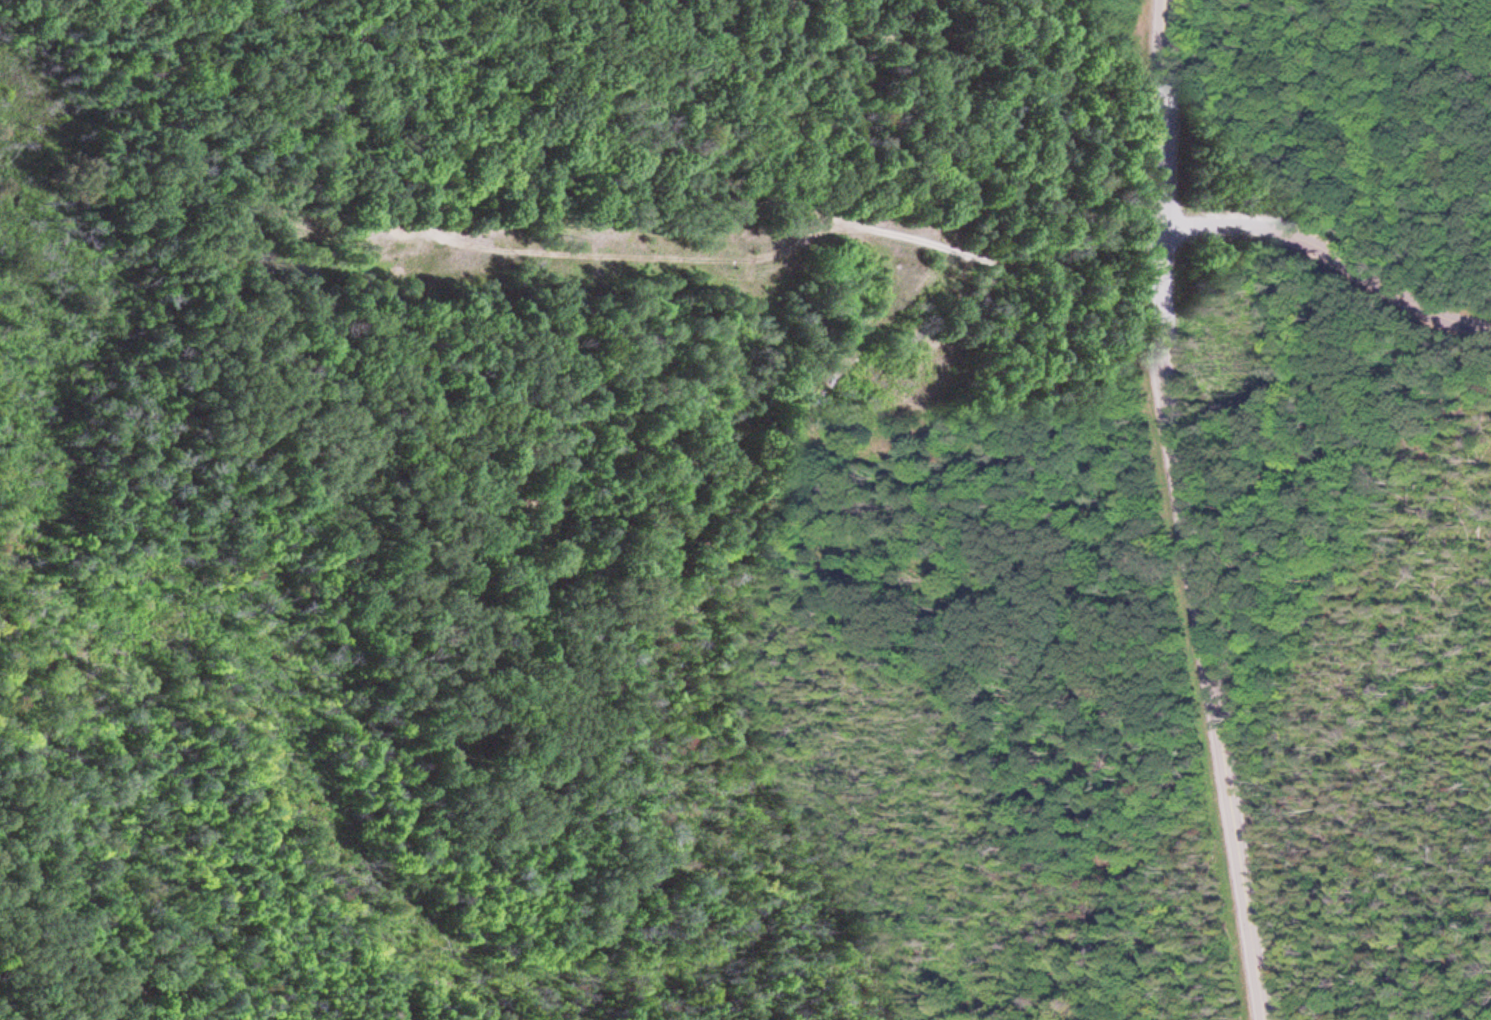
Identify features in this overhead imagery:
road: (576, 190)
road: (1330, 253)
road: (1186, 511)
road: (86, 918)

